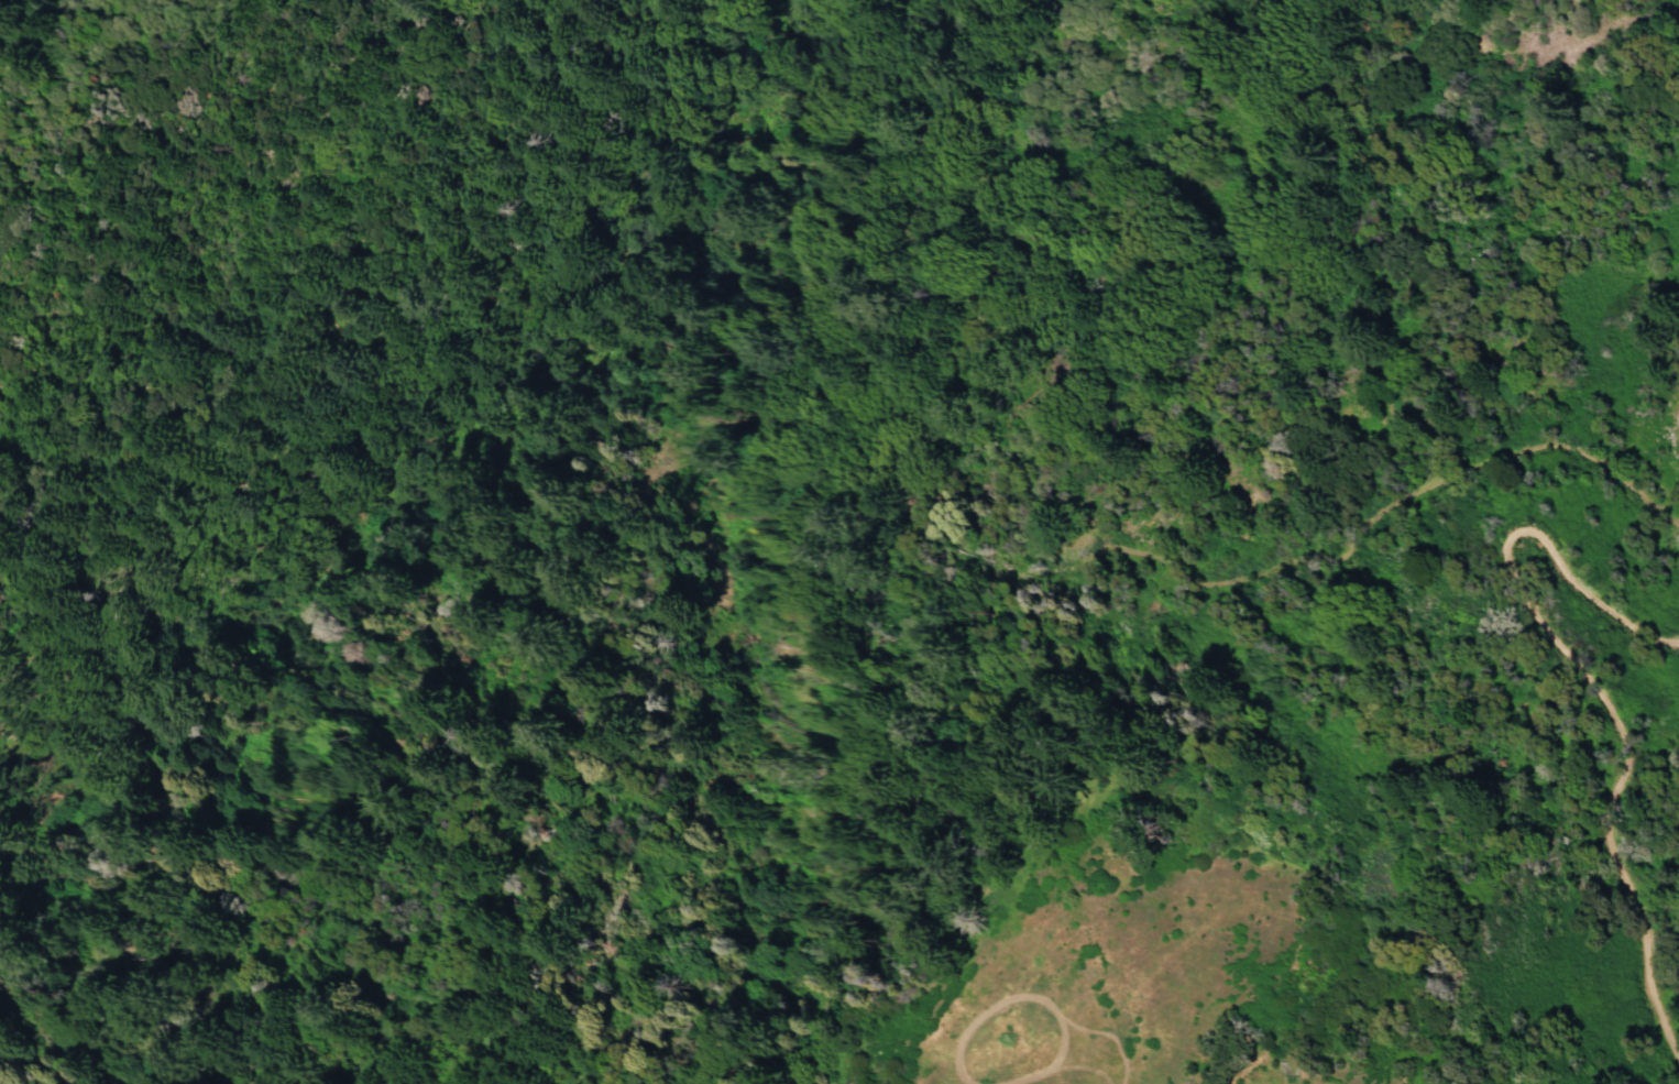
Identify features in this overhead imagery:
road: (108, 28)
road: (100, 248)
road: (465, 302)
road: (274, 305)

